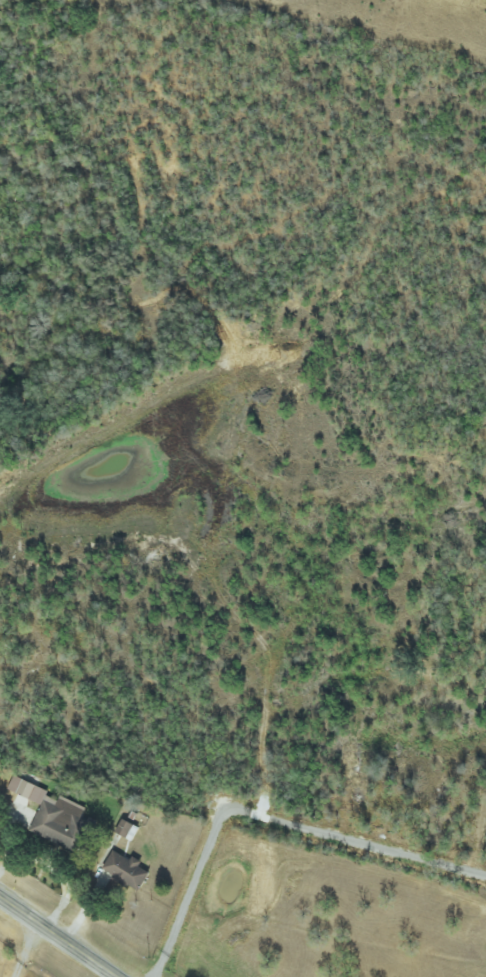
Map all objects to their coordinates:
building: (54, 815)
building: (128, 829)
building: (127, 870)
road: (56, 938)
road: (28, 952)

